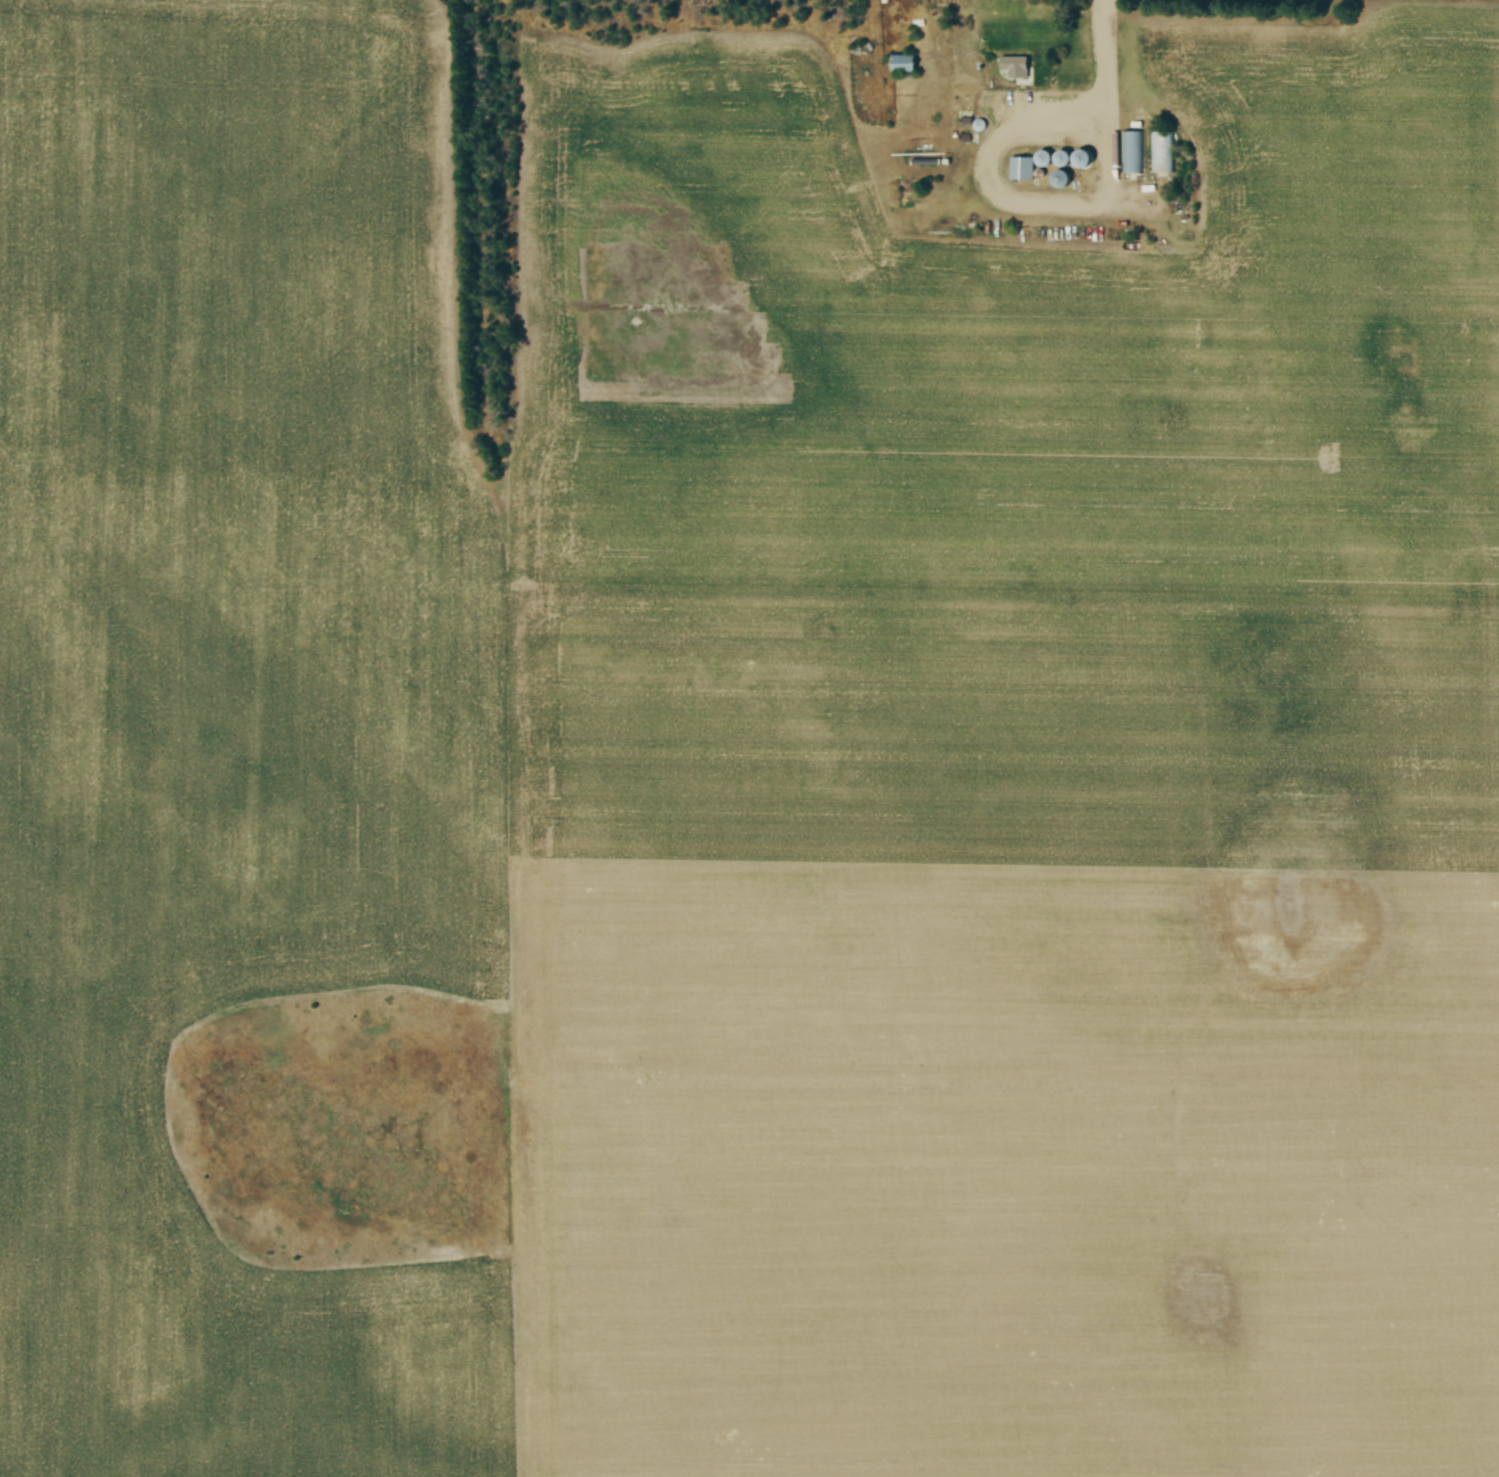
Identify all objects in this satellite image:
road: (1100, 53)
building: (901, 64)
building: (1011, 68)
building: (1131, 153)
building: (1162, 153)
building: (1079, 159)
building: (1031, 165)
building: (1057, 180)
road: (1058, 206)

